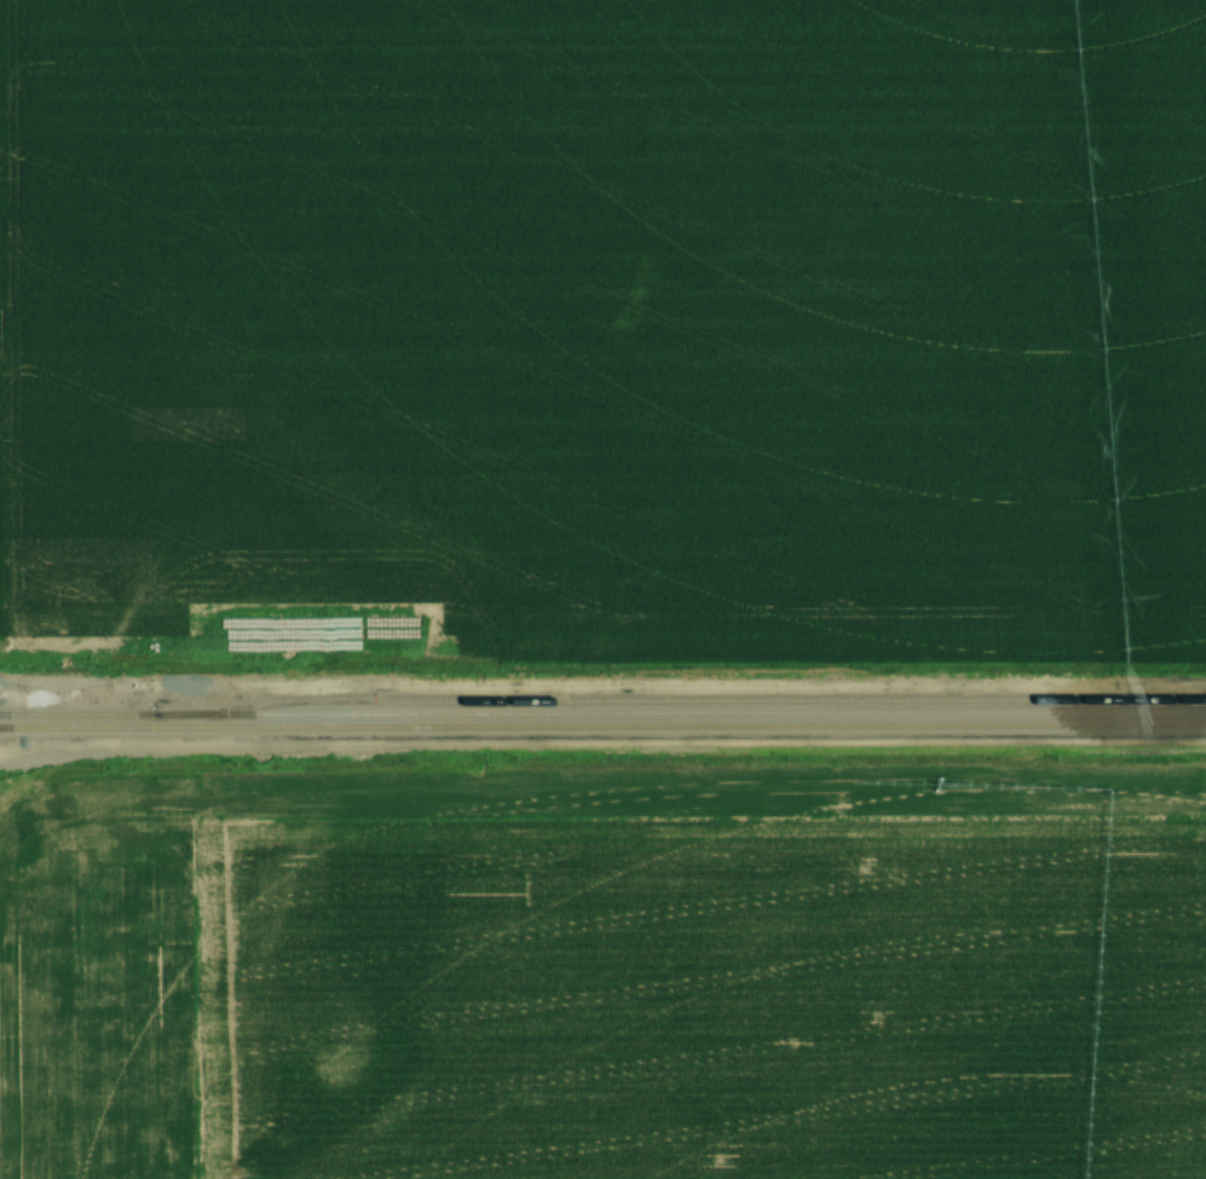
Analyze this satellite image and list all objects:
railway: (698, 701)
railway: (602, 713)
railway: (602, 727)

